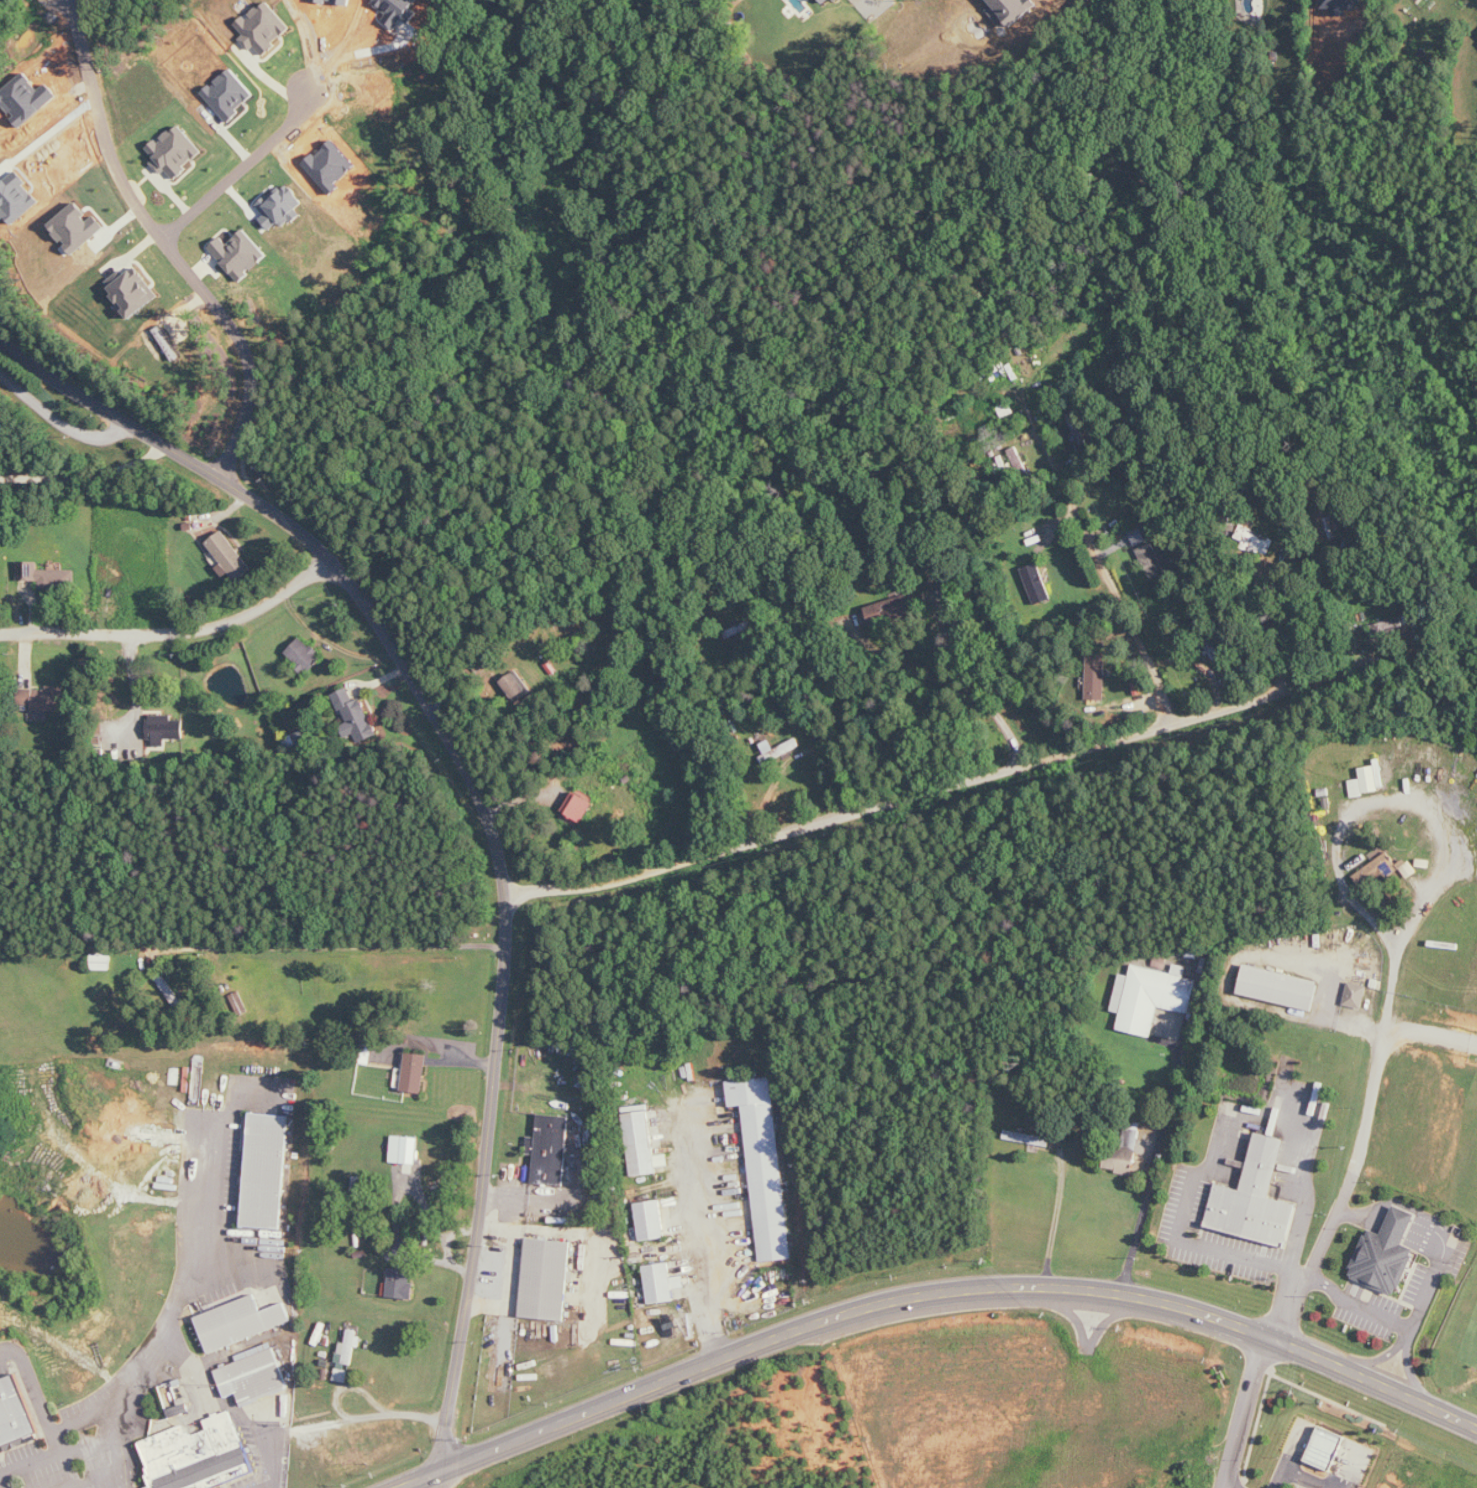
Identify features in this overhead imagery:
building: (825, 1)
building: (839, 1)
building: (1011, 10)
building: (264, 28)
road: (326, 44)
road: (357, 47)
building: (229, 94)
building: (175, 151)
road: (242, 168)
building: (282, 207)
road: (168, 244)
building: (240, 254)
building: (133, 291)
road: (57, 418)
building: (1020, 463)
road: (85, 475)
building: (1332, 521)
building: (1138, 536)
building: (1256, 541)
building: (1152, 561)
road: (1105, 564)
building: (47, 576)
building: (1037, 583)
road: (322, 603)
building: (890, 610)
building: (1386, 625)
road: (171, 627)
road: (1270, 629)
building: (304, 655)
building: (514, 685)
road: (978, 687)
building: (45, 699)
building: (355, 716)
building: (165, 729)
building: (1368, 781)
road: (938, 787)
road: (482, 796)
building: (579, 807)
building: (1383, 870)
road: (340, 945)
building: (101, 962)
building: (1279, 987)
building: (1355, 995)
building: (1151, 997)
road: (1328, 1014)
road: (1431, 1038)
building: (366, 1054)
building: (415, 1073)
road: (1371, 1093)
building: (635, 1108)
building: (1131, 1135)
road: (1226, 1136)
building: (640, 1143)
building: (405, 1149)
building: (550, 1150)
building: (1121, 1161)
road: (1153, 1161)
building: (764, 1164)
building: (266, 1171)
building: (1255, 1199)
road: (208, 1205)
road: (1364, 1212)
building: (651, 1220)
road: (1399, 1220)
road: (1056, 1223)
road: (709, 1229)
building: (1386, 1254)
road: (513, 1269)
road: (1434, 1269)
building: (546, 1280)
building: (659, 1283)
building: (401, 1284)
road: (929, 1292)
road: (1359, 1304)
building: (240, 1322)
road: (1408, 1335)
building: (347, 1354)
road: (1378, 1358)
road: (1409, 1372)
building: (254, 1375)
road: (127, 1382)
building: (174, 1401)
road: (223, 1403)
road: (1243, 1409)
building: (15, 1413)
road: (82, 1414)
road: (355, 1419)
road: (50, 1421)
building: (1325, 1448)
building: (198, 1455)
road: (1301, 1473)
road: (96, 1476)
road: (440, 1477)
road: (270, 1484)
road: (1224, 1487)

